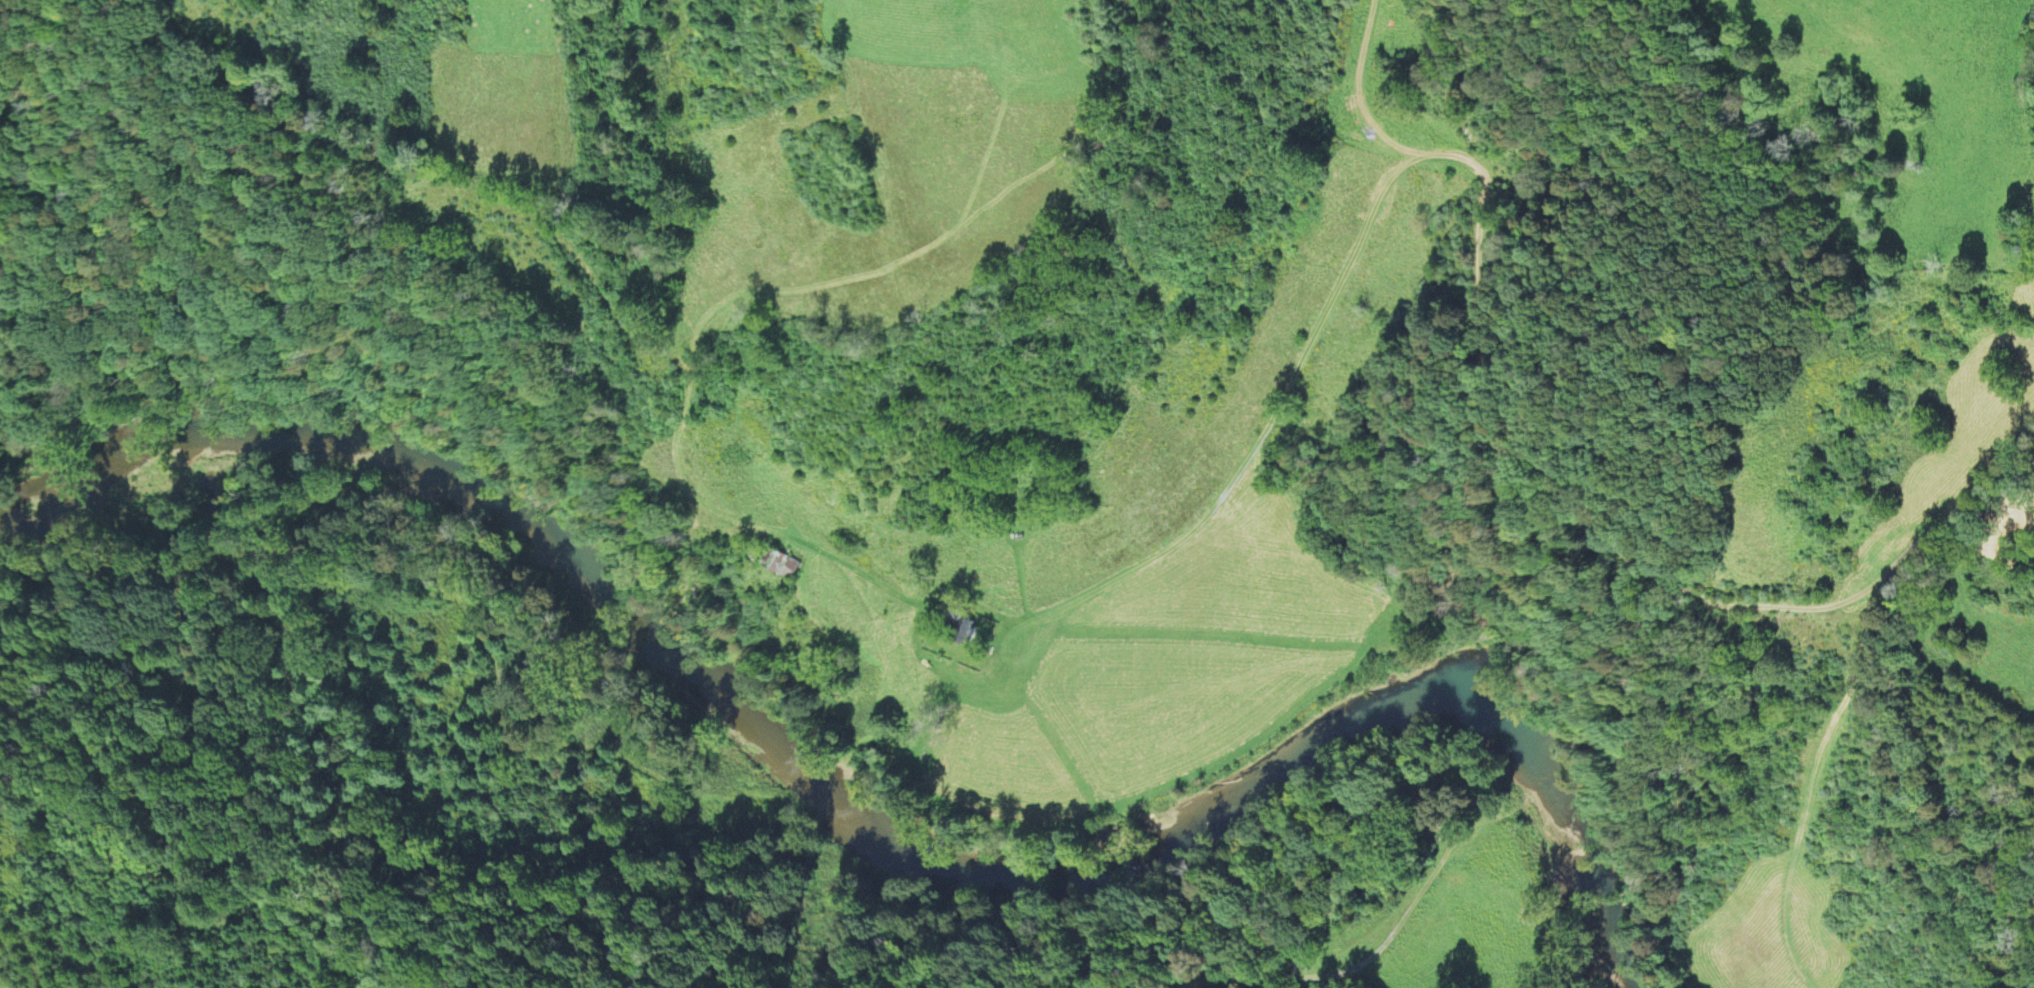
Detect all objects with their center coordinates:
building: (776, 563)
building: (958, 632)

